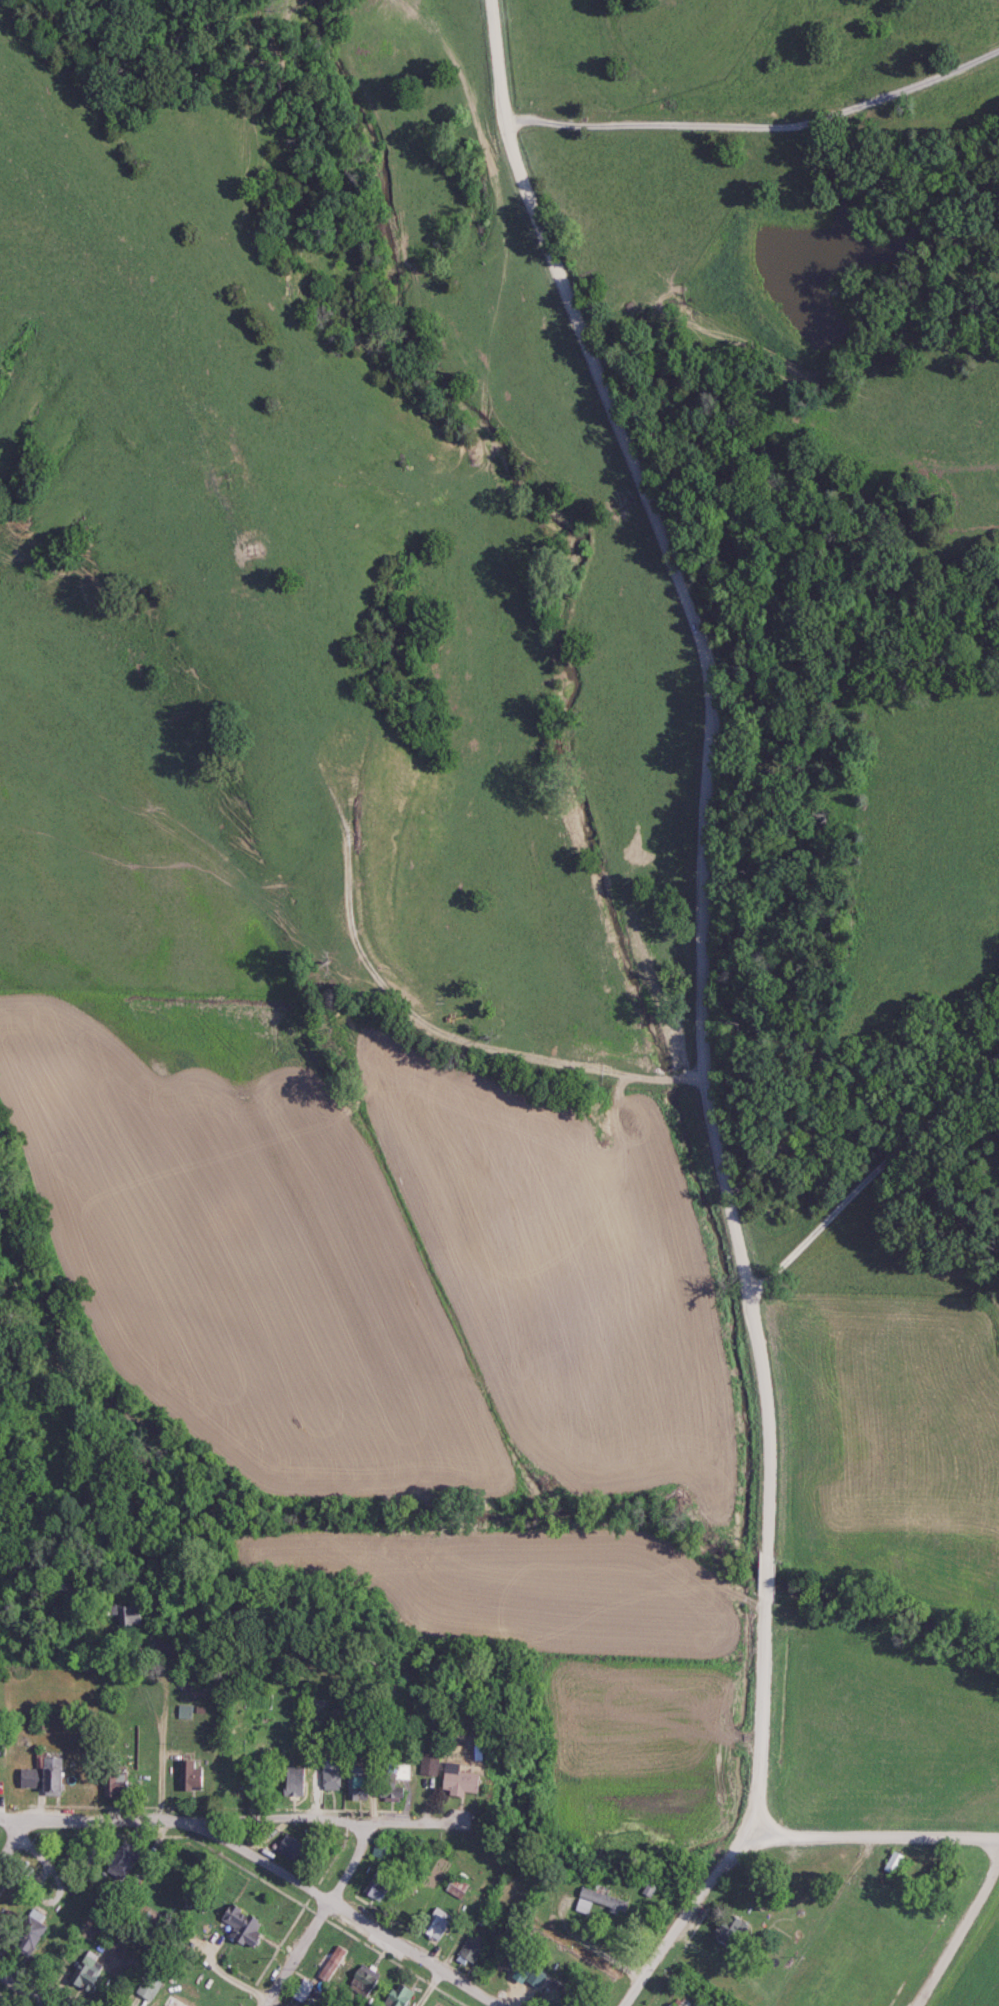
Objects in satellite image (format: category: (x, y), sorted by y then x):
road: (760, 126)
road: (703, 900)
road: (427, 1024)
road: (873, 1175)
building: (66, 1589)
building: (123, 1616)
road: (166, 1744)
building: (425, 1765)
building: (398, 1772)
building: (328, 1776)
building: (42, 1777)
building: (188, 1777)
building: (112, 1779)
building: (291, 1781)
building: (454, 1781)
building: (356, 1785)
building: (387, 1792)
road: (229, 1807)
road: (11, 1830)
road: (876, 1834)
road: (358, 1835)
building: (285, 1847)
building: (120, 1862)
building: (893, 1865)
road: (334, 1903)
building: (595, 1903)
road: (689, 1919)
building: (433, 1925)
building: (237, 1926)
road: (308, 1929)
building: (26, 1932)
road: (959, 1936)
building: (466, 1951)
building: (84, 1974)
road: (424, 1987)
road: (19, 1994)

